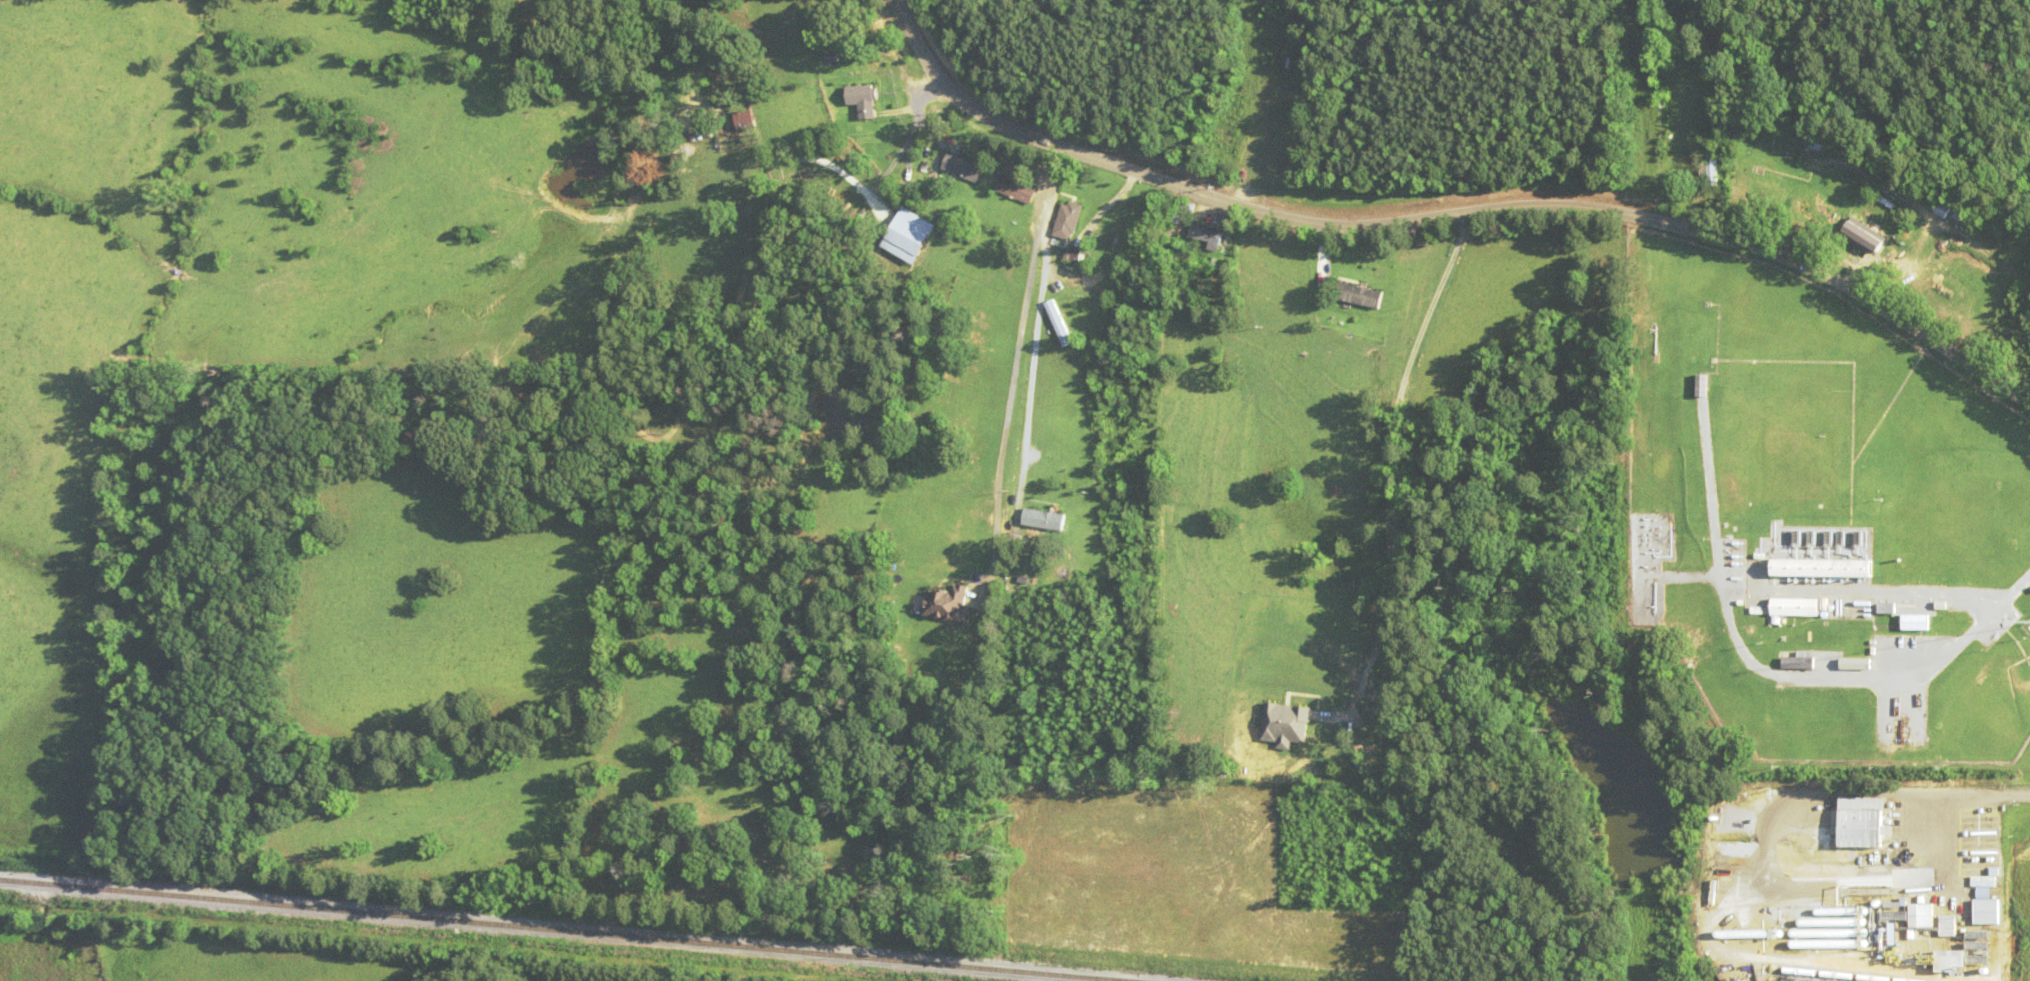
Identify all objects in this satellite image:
building: (833, 58)
building: (864, 99)
building: (746, 118)
building: (1819, 142)
building: (1711, 161)
building: (965, 166)
building: (1018, 188)
building: (1942, 208)
road: (1449, 213)
building: (1070, 219)
building: (1207, 233)
building: (1360, 295)
building: (1060, 322)
building: (1702, 385)
building: (1045, 518)
building: (1821, 566)
building: (948, 603)
building: (1795, 606)
building: (1886, 607)
building: (1914, 621)
building: (1799, 660)
building: (1855, 663)
road: (2019, 794)
building: (1860, 821)
building: (1987, 909)
building: (1921, 914)
building: (1948, 924)
railway: (571, 929)
building: (1979, 945)
building: (1950, 958)
railway: (1855, 975)

